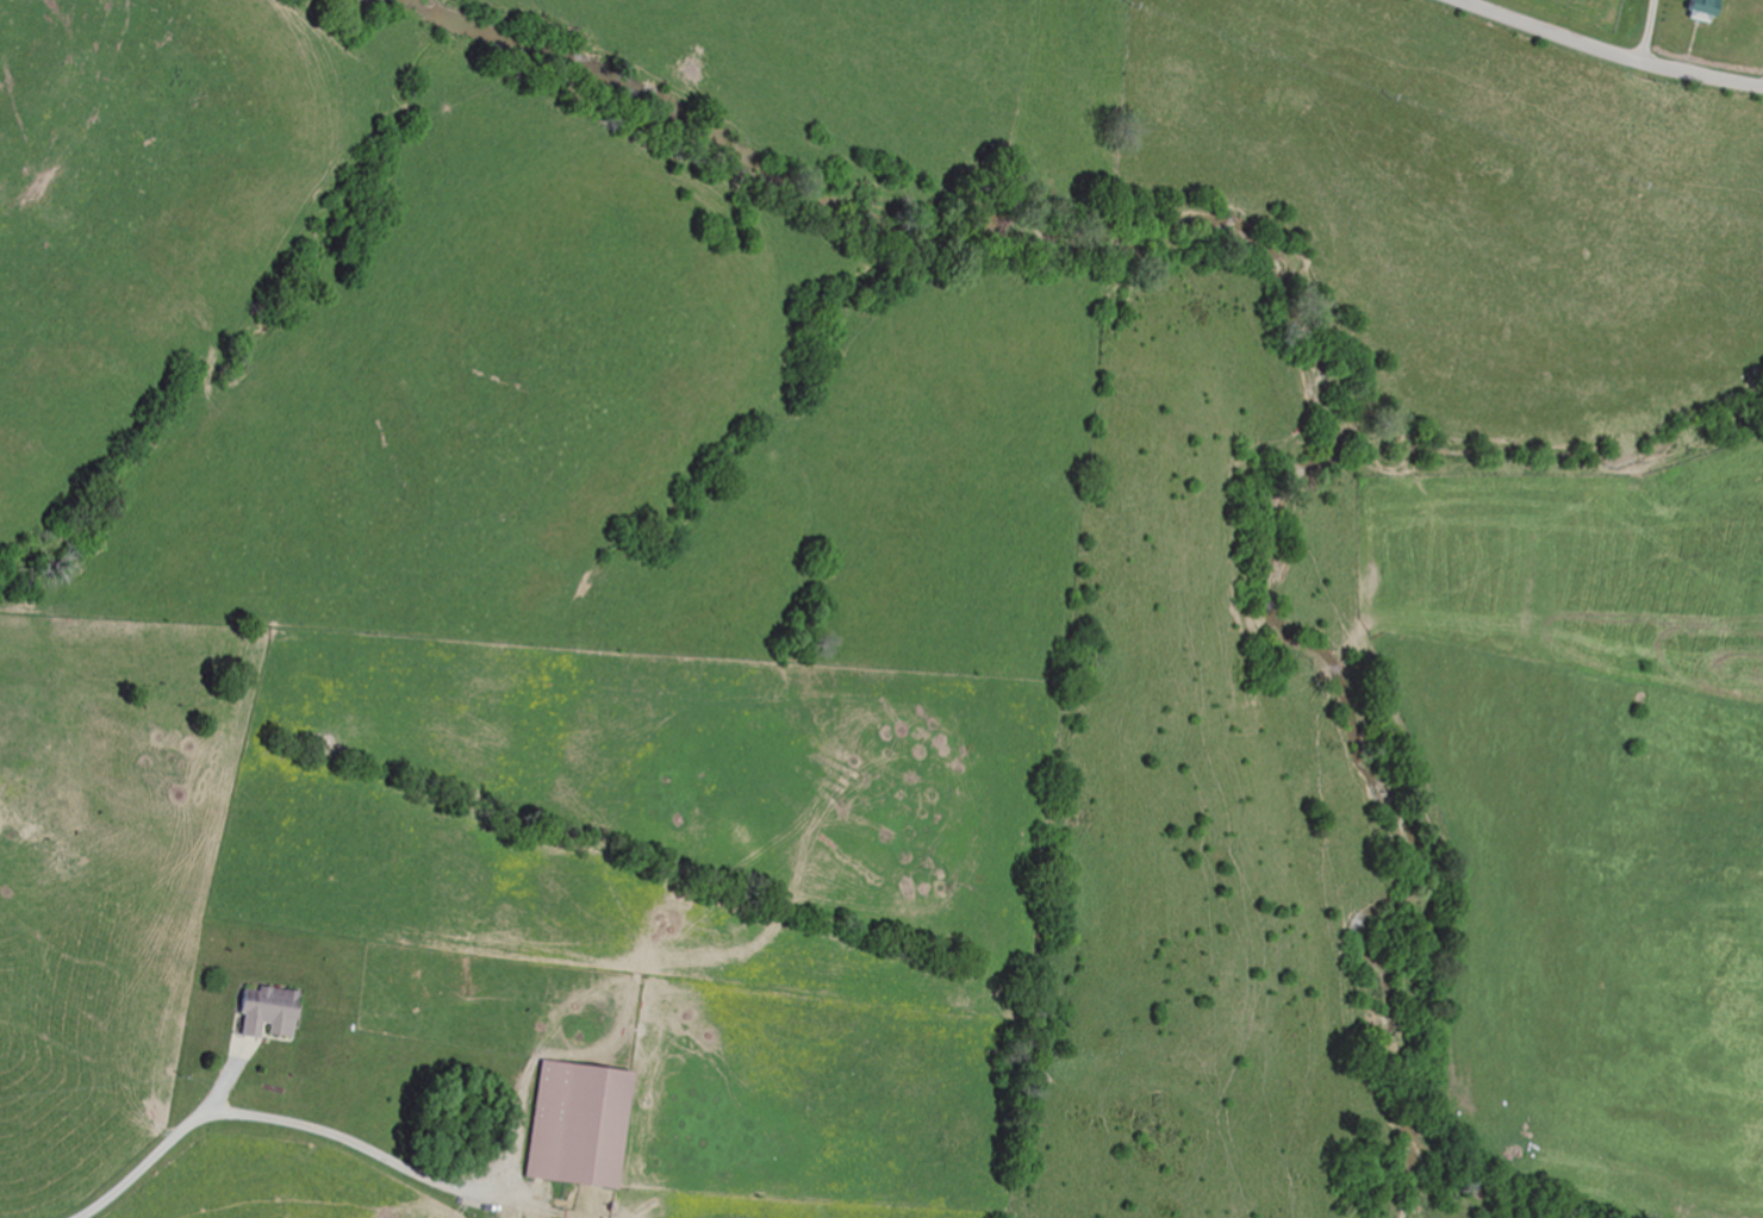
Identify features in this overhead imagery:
building: (1696, 8)
road: (1608, 52)
building: (274, 1010)
building: (575, 1126)

